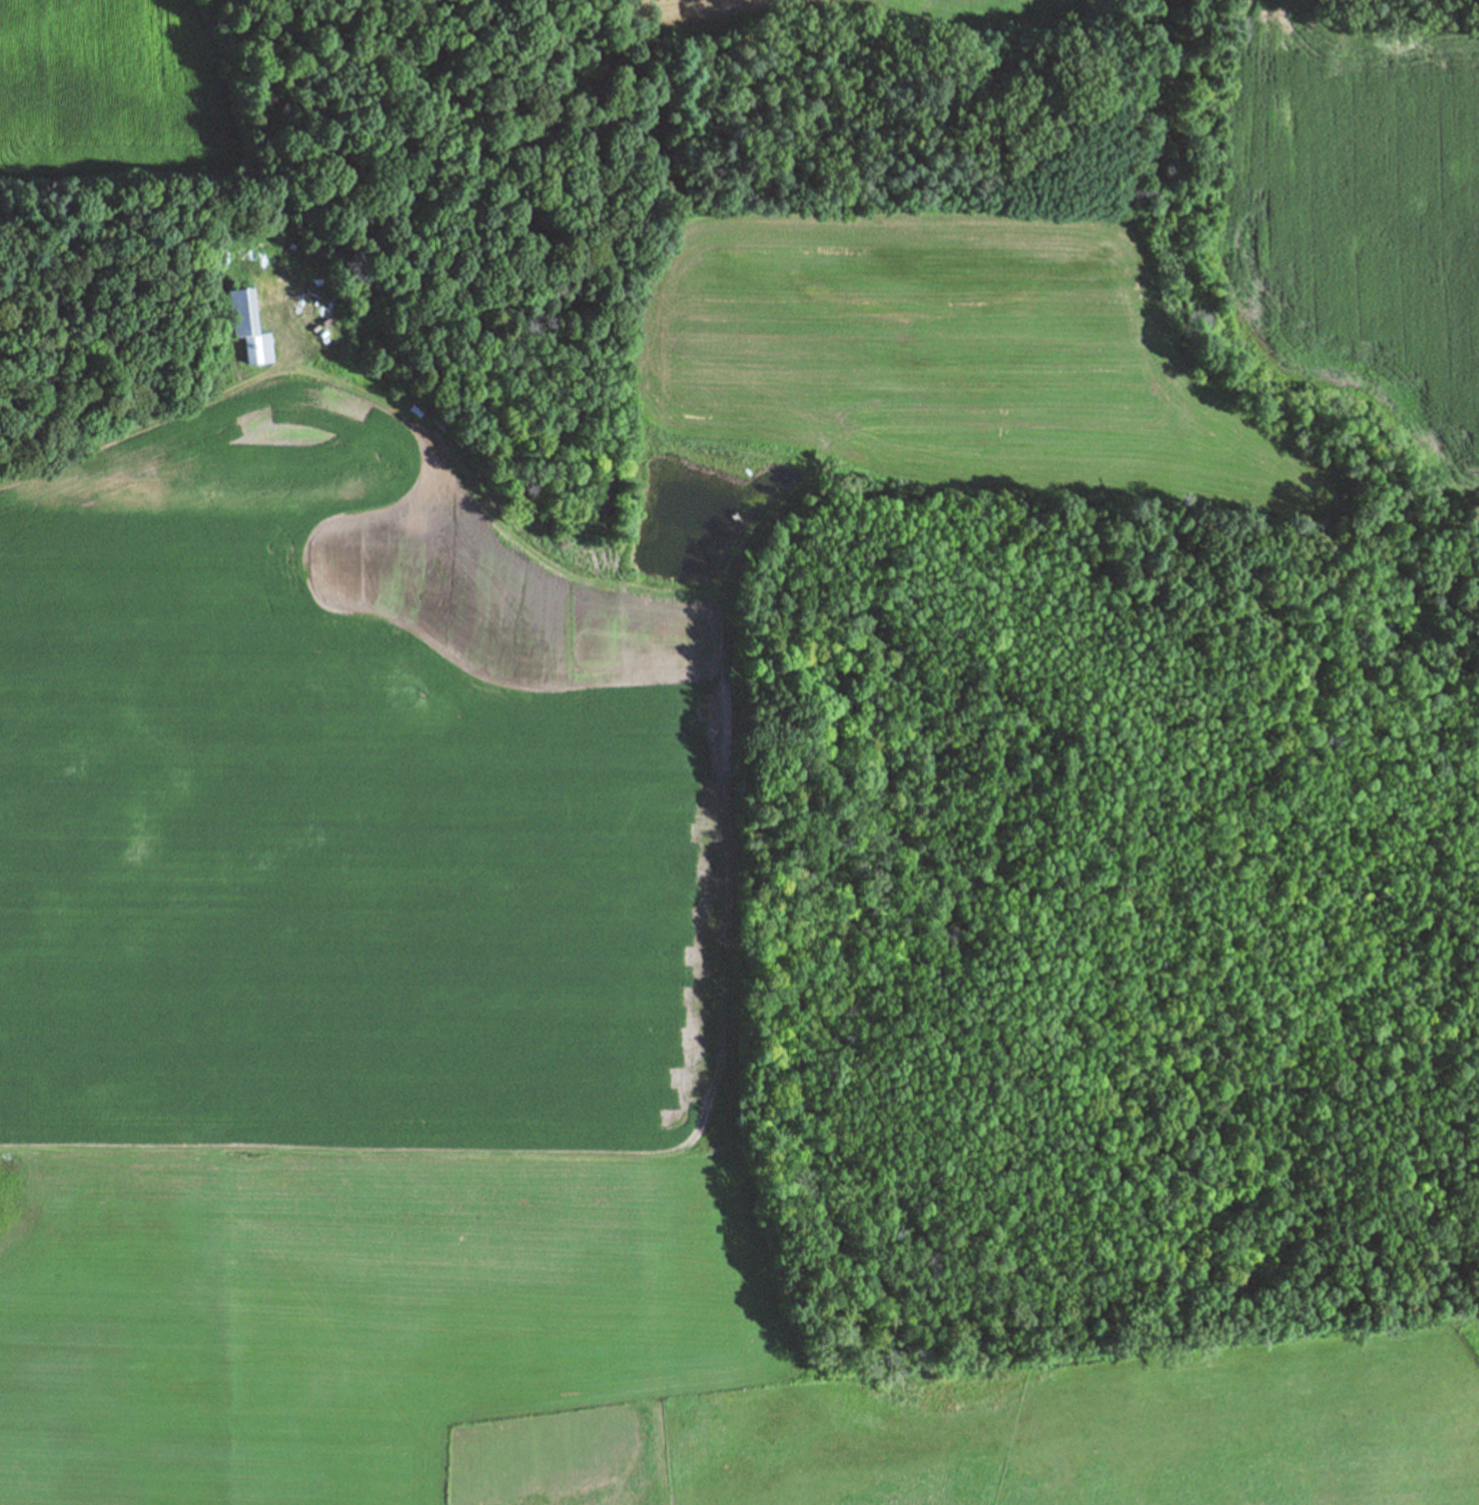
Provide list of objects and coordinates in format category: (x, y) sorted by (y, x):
building: (249, 325)

